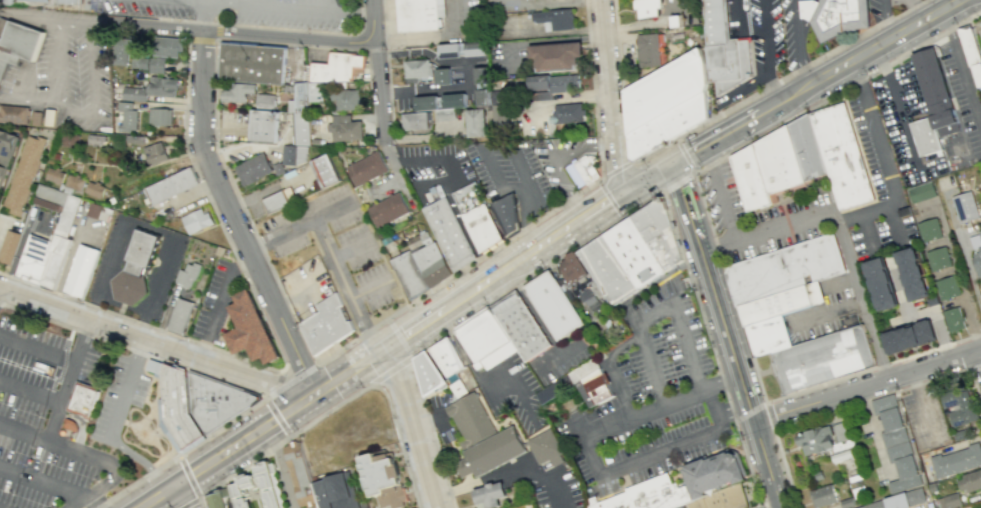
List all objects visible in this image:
building: (41, 0)
building: (65, 1)
building: (5, 2)
road: (164, 2)
road: (548, 3)
road: (197, 4)
parking lot: (899, 4)
parking lot: (505, 6)
building: (645, 8)
road: (289, 10)
road: (916, 10)
parking lot: (237, 12)
parking lot: (879, 12)
building: (419, 14)
building: (836, 16)
road: (206, 18)
building: (555, 18)
road: (52, 19)
road: (882, 19)
building: (676, 20)
road: (248, 25)
road: (156, 27)
road: (188, 29)
road: (215, 30)
parking lot: (793, 33)
parking lot: (979, 34)
road: (290, 37)
road: (435, 37)
road: (201, 38)
parking lot: (765, 38)
road: (882, 41)
building: (17, 42)
road: (800, 42)
building: (167, 46)
building: (123, 49)
building: (463, 49)
building: (649, 49)
building: (725, 50)
road: (768, 51)
building: (970, 51)
building: (556, 56)
building: (251, 61)
building: (139, 62)
building: (157, 65)
building: (336, 66)
road: (961, 68)
road: (388, 70)
road: (467, 70)
road: (799, 70)
building: (425, 72)
parking lot: (66, 73)
road: (376, 73)
road: (619, 80)
road: (55, 84)
building: (161, 85)
building: (482, 85)
building: (555, 85)
road: (592, 89)
road: (92, 91)
building: (315, 91)
building: (236, 92)
road: (837, 92)
building: (935, 92)
building: (134, 93)
road: (608, 94)
building: (541, 95)
parking lot: (962, 95)
building: (346, 99)
building: (264, 101)
building: (440, 101)
building: (663, 104)
building: (499, 108)
building: (446, 113)
building: (14, 114)
building: (568, 115)
building: (127, 116)
building: (159, 116)
building: (36, 117)
building: (50, 117)
building: (414, 120)
building: (476, 122)
road: (740, 123)
building: (263, 125)
building: (301, 128)
building: (345, 128)
road: (875, 135)
building: (924, 136)
building: (95, 139)
building: (134, 139)
building: (69, 140)
building: (7, 143)
road: (485, 150)
road: (652, 151)
building: (808, 151)
building: (155, 153)
building: (288, 154)
building: (56, 155)
road: (553, 155)
building: (842, 159)
building: (3, 160)
road: (421, 160)
parking lot: (560, 160)
traffic signals: (671, 163)
parking lot: (433, 164)
building: (779, 164)
building: (253, 168)
building: (278, 168)
road: (614, 168)
building: (367, 170)
building: (581, 171)
building: (2, 172)
building: (324, 172)
road: (692, 172)
building: (24, 173)
road: (650, 174)
building: (54, 175)
parking lot: (512, 176)
road: (399, 180)
building: (74, 182)
building: (751, 182)
building: (170, 185)
traffic signals: (629, 185)
parking lot: (877, 188)
building: (94, 189)
building: (921, 191)
building: (434, 193)
building: (49, 197)
road: (610, 198)
building: (278, 199)
road: (595, 205)
road: (243, 206)
road: (690, 206)
building: (964, 207)
road: (455, 208)
road: (725, 208)
building: (93, 210)
road: (213, 210)
building: (386, 210)
road: (331, 211)
building: (506, 213)
building: (477, 216)
road: (527, 216)
road: (862, 216)
road: (540, 217)
road: (230, 218)
parking lot: (762, 219)
building: (196, 220)
road: (1, 224)
road: (893, 224)
road: (426, 225)
road: (149, 226)
road: (784, 226)
building: (929, 229)
building: (448, 233)
road: (869, 233)
road: (280, 235)
road: (542, 240)
building: (419, 242)
building: (8, 245)
parking lot: (334, 247)
building: (47, 249)
road: (352, 251)
building: (632, 252)
building: (976, 252)
road: (444, 258)
building: (938, 258)
road: (514, 260)
building: (431, 264)
building: (80, 270)
building: (785, 270)
road: (669, 271)
building: (134, 272)
building: (409, 273)
road: (535, 273)
building: (914, 273)
building: (186, 275)
building: (579, 278)
road: (346, 285)
road: (477, 285)
building: (882, 285)
parking lot: (306, 287)
road: (728, 287)
building: (947, 287)
road: (371, 289)
road: (423, 294)
road: (861, 295)
parking lot: (213, 302)
road: (218, 304)
road: (697, 305)
building: (555, 307)
road: (659, 310)
parking lot: (828, 310)
road: (831, 311)
road: (919, 313)
building: (179, 315)
building: (776, 317)
building: (953, 319)
road: (137, 321)
road: (541, 321)
building: (325, 324)
road: (416, 324)
building: (522, 328)
building: (249, 330)
road: (397, 336)
building: (483, 336)
road: (731, 336)
building: (907, 337)
road: (151, 341)
road: (459, 343)
road: (341, 348)
road: (36, 350)
road: (132, 350)
road: (568, 352)
building: (448, 357)
parking lot: (568, 357)
building: (824, 359)
road: (300, 364)
road: (975, 365)
road: (872, 368)
road: (389, 370)
road: (766, 370)
building: (428, 373)
road: (290, 382)
road: (722, 382)
road: (270, 383)
road: (515, 384)
road: (619, 385)
road: (975, 386)
road: (124, 387)
road: (869, 387)
building: (594, 390)
road: (30, 392)
parking lot: (512, 392)
road: (385, 396)
building: (82, 398)
parking lot: (653, 398)
parking lot: (119, 399)
building: (214, 402)
road: (189, 405)
building: (958, 405)
road: (731, 408)
road: (710, 409)
building: (175, 410)
road: (832, 410)
road: (748, 411)
road: (769, 415)
parking lot: (38, 416)
road: (276, 416)
parking lot: (441, 416)
road: (426, 418)
building: (70, 425)
road: (80, 425)
road: (414, 425)
road: (261, 427)
road: (50, 429)
road: (431, 431)
building: (840, 431)
building: (484, 437)
building: (815, 440)
building: (896, 442)
building: (545, 449)
road: (77, 453)
road: (179, 453)
road: (589, 453)
building: (956, 460)
road: (138, 461)
road: (746, 464)
road: (771, 464)
road: (280, 465)
road: (243, 466)
building: (299, 473)
road: (16, 475)
building: (714, 475)
building: (382, 478)
road: (548, 480)
building: (969, 481)
parking lot: (544, 483)
building: (244, 484)
road: (192, 485)
building: (336, 491)
road: (182, 494)
building: (649, 495)
road: (88, 496)
building: (489, 496)
building: (822, 496)
building: (219, 499)
building: (724, 500)
building: (949, 500)
building: (903, 501)
road: (199, 503)
road: (778, 506)

